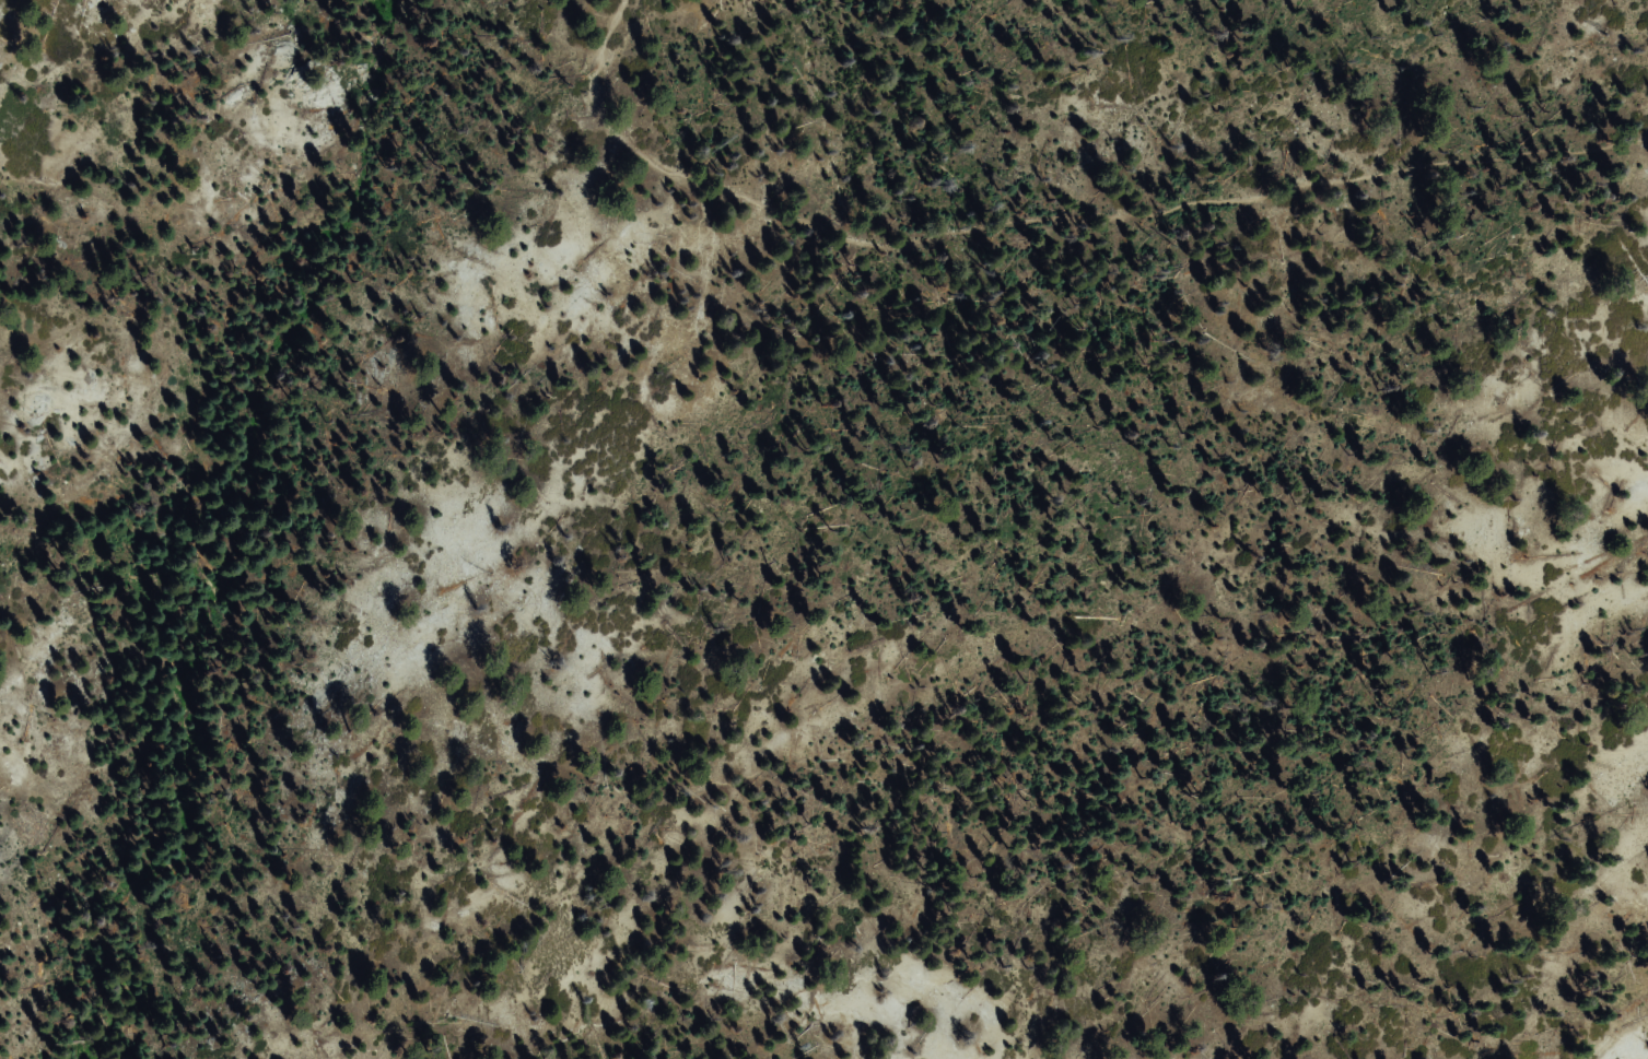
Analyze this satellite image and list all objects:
road: (1045, 212)

